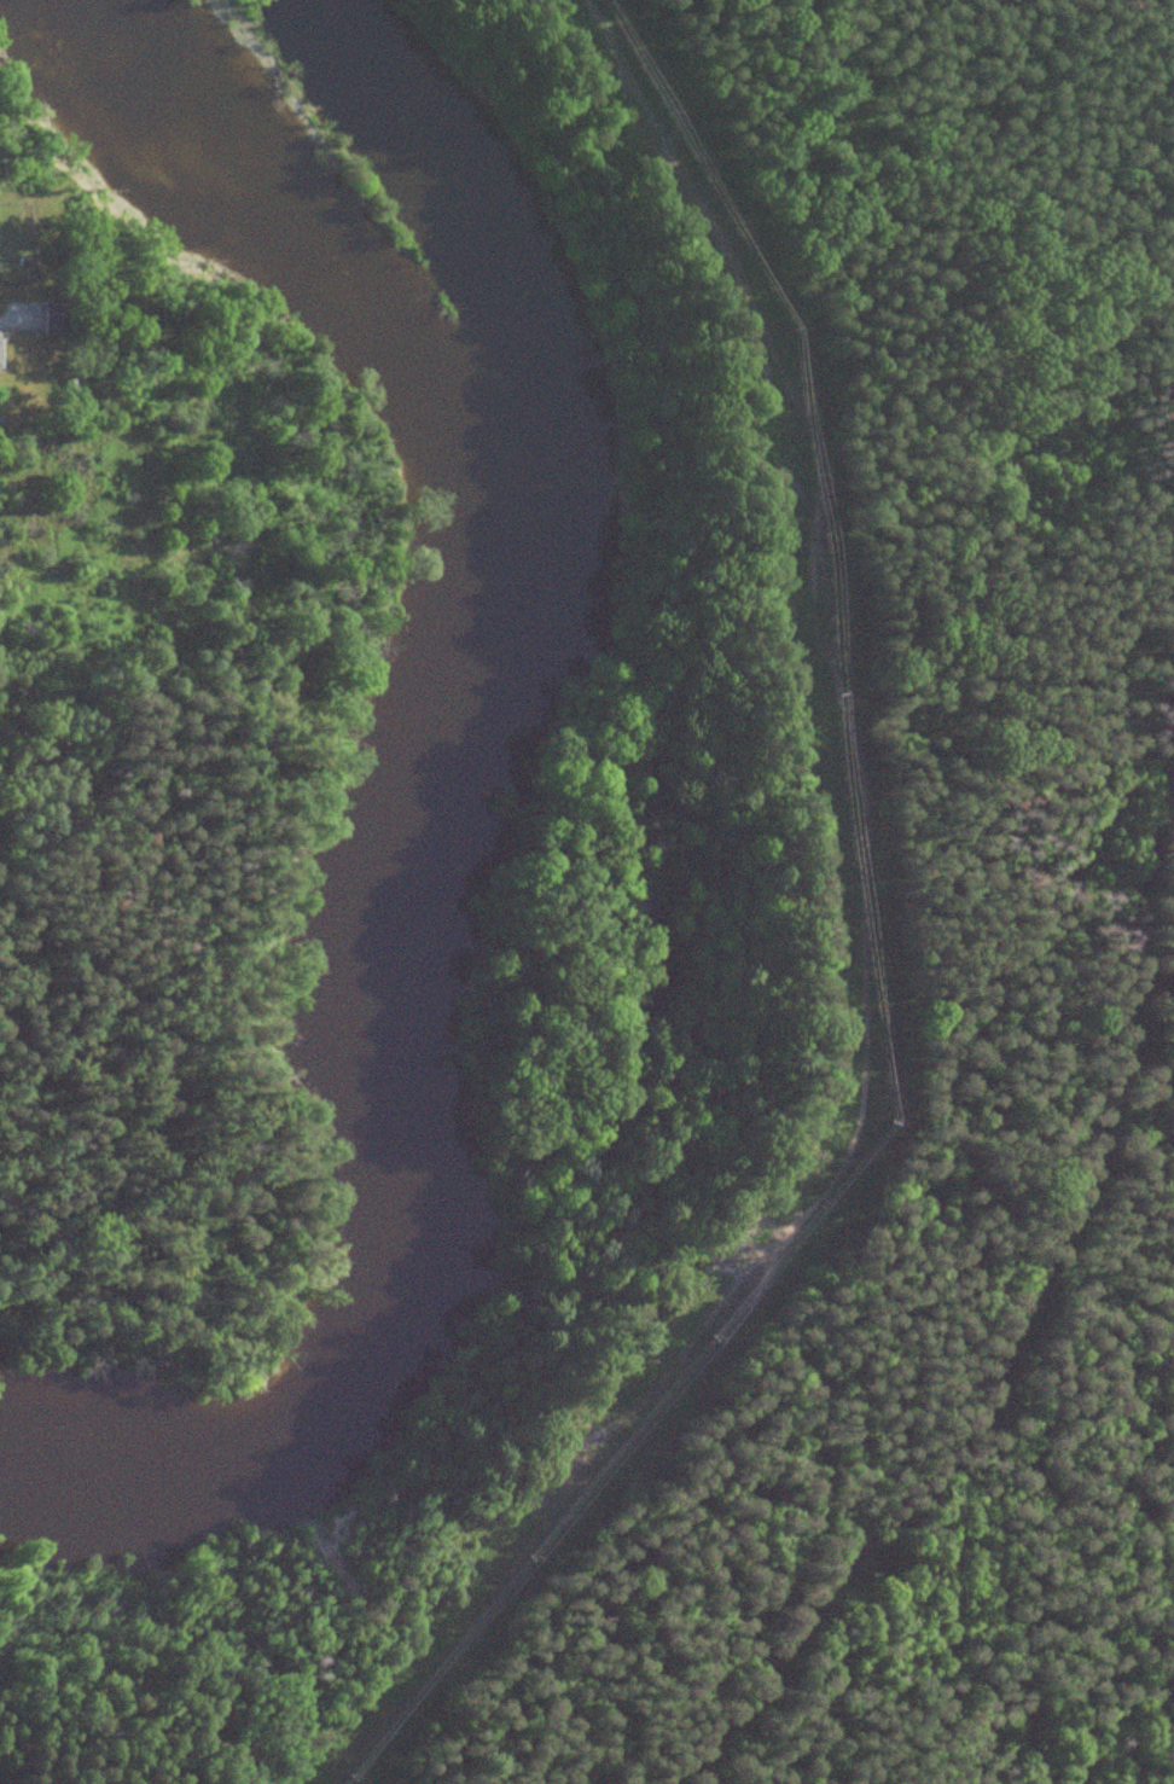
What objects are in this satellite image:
river: (492, 250)
building: (56, 315)
building: (0, 351)
road: (124, 537)
road: (147, 644)
river: (425, 813)
road: (861, 958)

